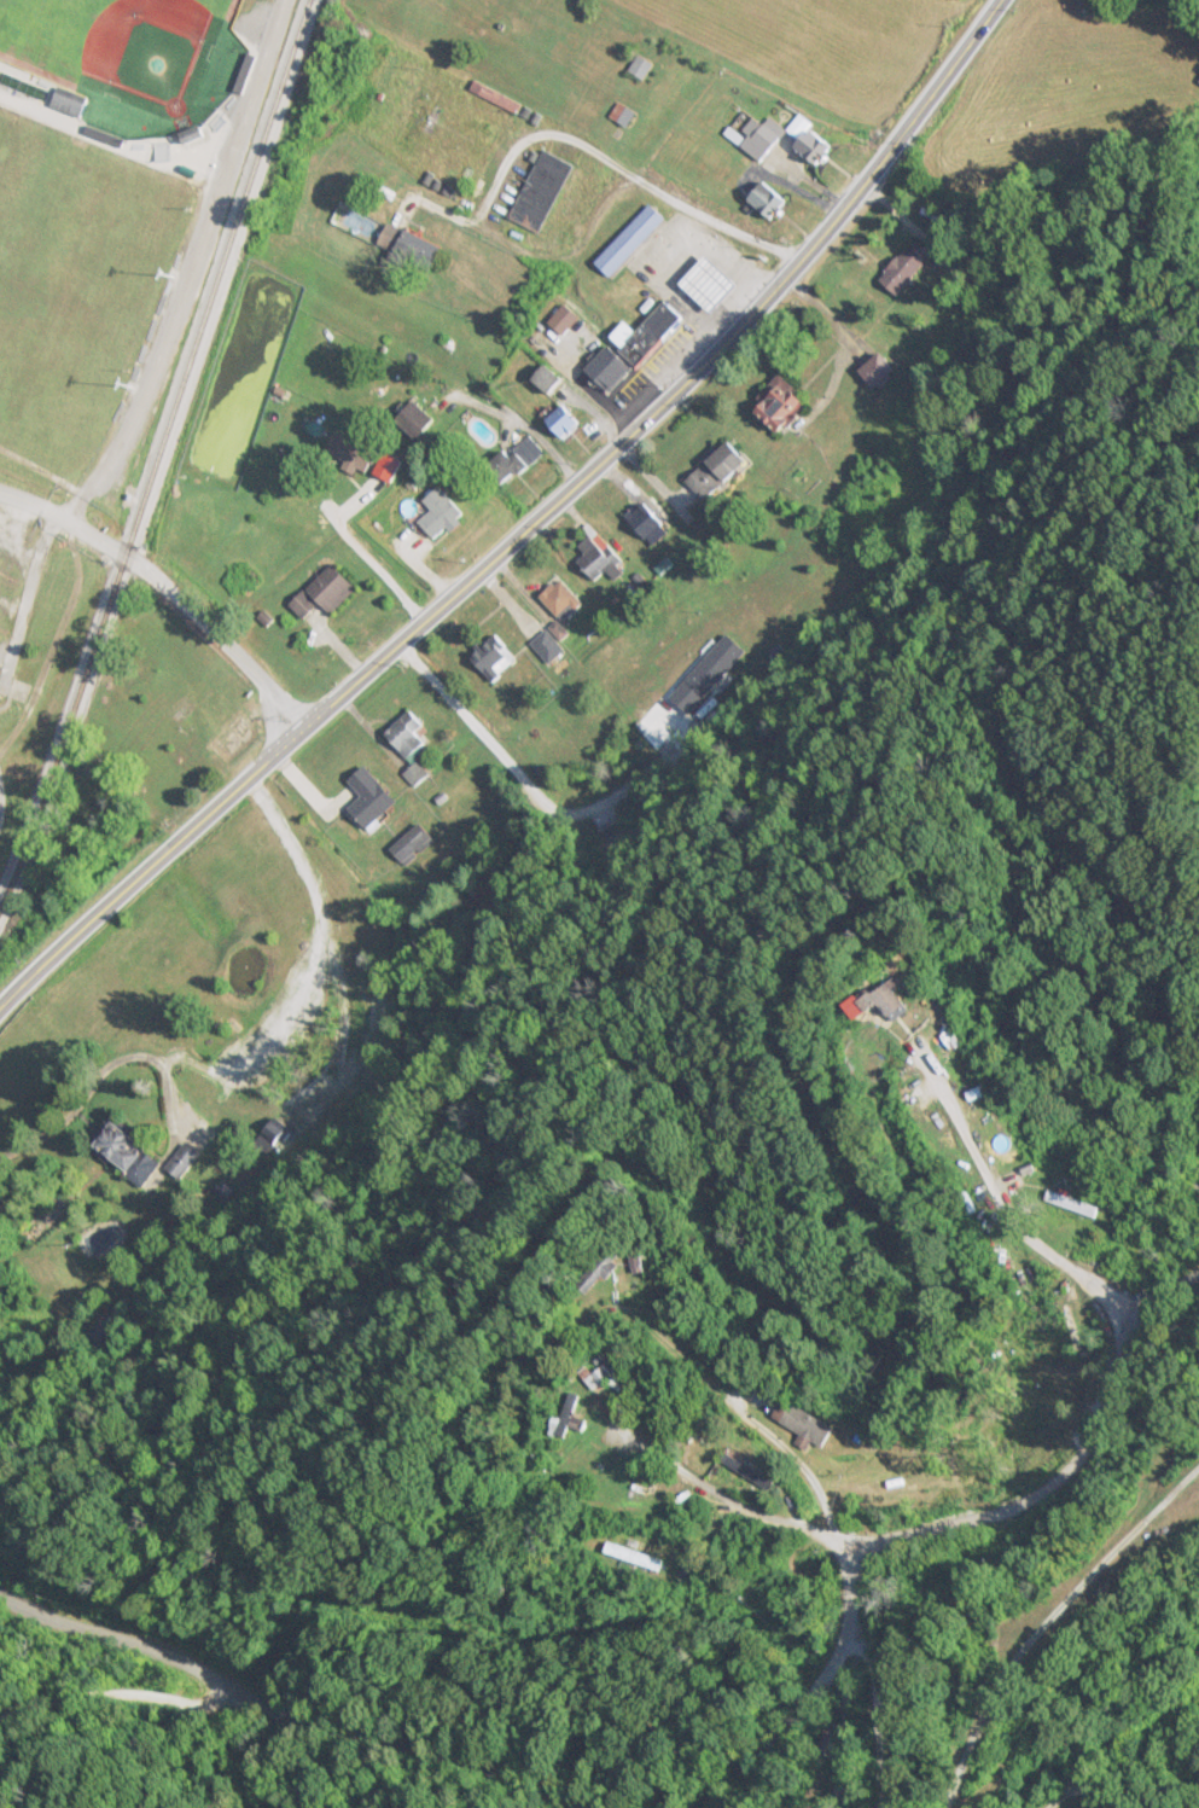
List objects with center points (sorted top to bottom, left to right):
park: (116, 39)
stadium: (124, 53)
park: (0, 139)
road: (485, 211)
road: (717, 223)
park: (77, 290)
railway: (155, 450)
road: (523, 521)
road: (161, 588)
road: (83, 1046)
road: (1008, 1213)
road: (532, 1370)
road: (1185, 1465)
road: (937, 1522)
road: (846, 1541)
road: (1066, 1614)
road: (120, 1696)
road: (292, 1701)
road: (890, 1714)
road: (1143, 1744)

